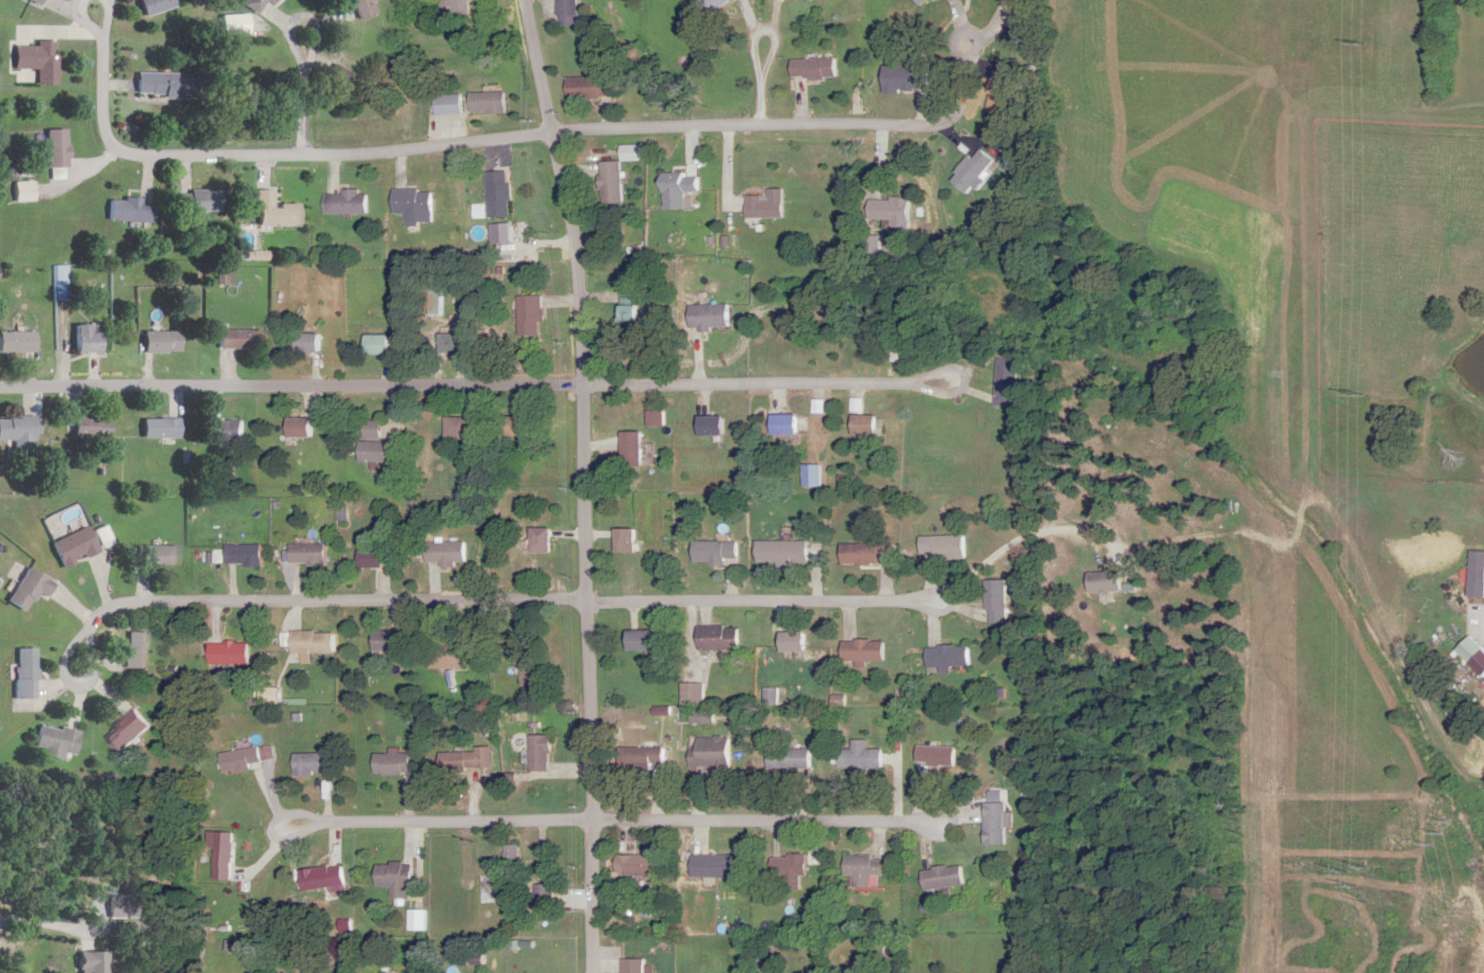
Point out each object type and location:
building: (38, 1)
building: (808, 1)
building: (916, 2)
building: (257, 4)
building: (702, 5)
building: (156, 6)
building: (464, 6)
building: (363, 8)
building: (570, 12)
road: (95, 36)
building: (39, 61)
building: (809, 69)
building: (337, 73)
building: (901, 80)
building: (167, 85)
building: (595, 88)
road: (610, 101)
building: (495, 103)
building: (456, 104)
road: (761, 104)
road: (748, 130)
building: (58, 150)
road: (277, 157)
building: (968, 171)
building: (616, 183)
building: (682, 190)
building: (24, 193)
building: (505, 195)
building: (199, 202)
building: (420, 202)
building: (351, 204)
building: (761, 206)
building: (885, 210)
building: (129, 211)
building: (275, 213)
building: (869, 246)
building: (59, 283)
building: (440, 303)
building: (635, 309)
building: (533, 316)
building: (712, 316)
building: (88, 340)
building: (242, 341)
building: (17, 343)
building: (163, 343)
building: (312, 343)
building: (458, 344)
building: (383, 345)
building: (894, 353)
building: (1002, 383)
road: (769, 385)
road: (292, 386)
building: (659, 418)
building: (777, 424)
building: (705, 425)
building: (858, 425)
building: (466, 426)
building: (525, 426)
building: (93, 427)
building: (304, 427)
building: (162, 428)
building: (378, 429)
building: (228, 431)
building: (19, 432)
building: (640, 448)
building: (382, 451)
road: (587, 483)
building: (104, 536)
building: (550, 540)
building: (632, 540)
road: (1031, 540)
building: (936, 546)
building: (76, 547)
building: (711, 551)
building: (448, 552)
building: (777, 552)
building: (863, 553)
building: (312, 554)
building: (246, 555)
building: (160, 556)
building: (376, 557)
building: (1474, 573)
building: (1099, 581)
building: (29, 589)
building: (991, 600)
road: (764, 601)
road: (333, 603)
road: (1477, 618)
building: (713, 637)
building: (388, 640)
building: (640, 640)
building: (786, 640)
building: (313, 642)
building: (136, 650)
building: (858, 650)
building: (230, 653)
building: (448, 655)
building: (1470, 655)
building: (941, 656)
building: (532, 668)
building: (25, 673)
road: (85, 685)
building: (128, 730)
building: (57, 742)
building: (707, 752)
building: (543, 753)
building: (931, 755)
building: (648, 756)
building: (784, 758)
building: (241, 759)
building: (854, 759)
building: (464, 760)
building: (315, 762)
building: (394, 764)
road: (765, 820)
road: (440, 822)
building: (990, 823)
building: (222, 855)
building: (515, 855)
building: (643, 865)
building: (711, 866)
building: (784, 869)
building: (858, 869)
building: (324, 877)
building: (937, 877)
building: (399, 878)
building: (549, 896)
building: (421, 920)
building: (94, 962)
building: (638, 965)

